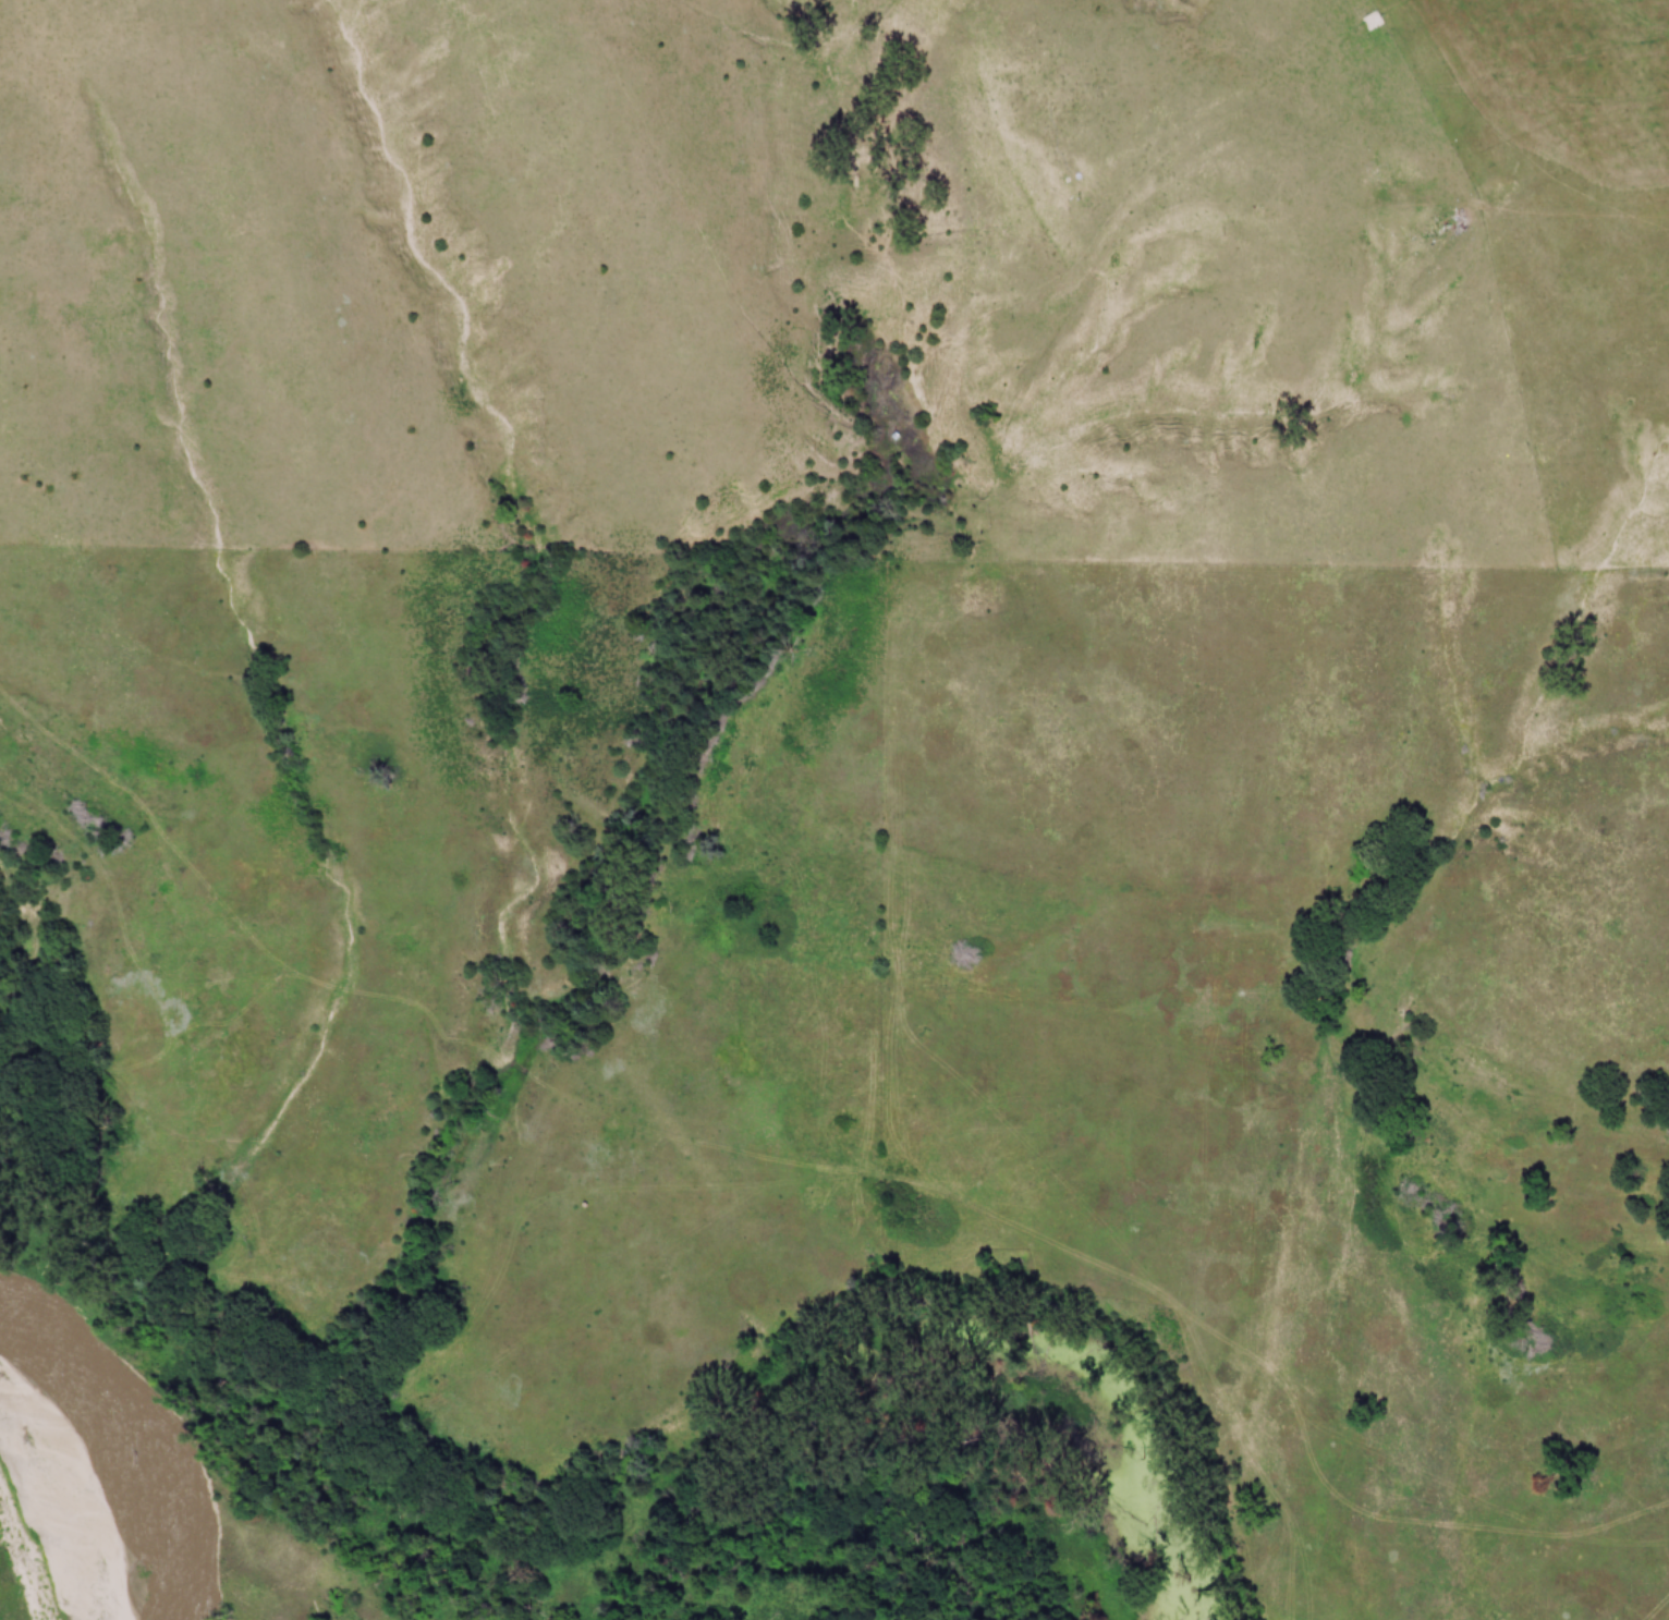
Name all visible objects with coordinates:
river: (99, 1466)

